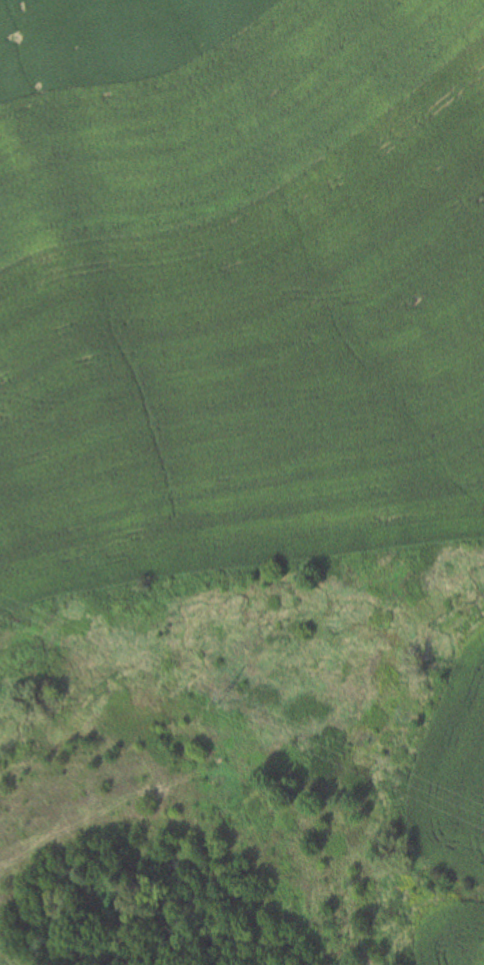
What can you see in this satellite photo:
road: (29, 855)

